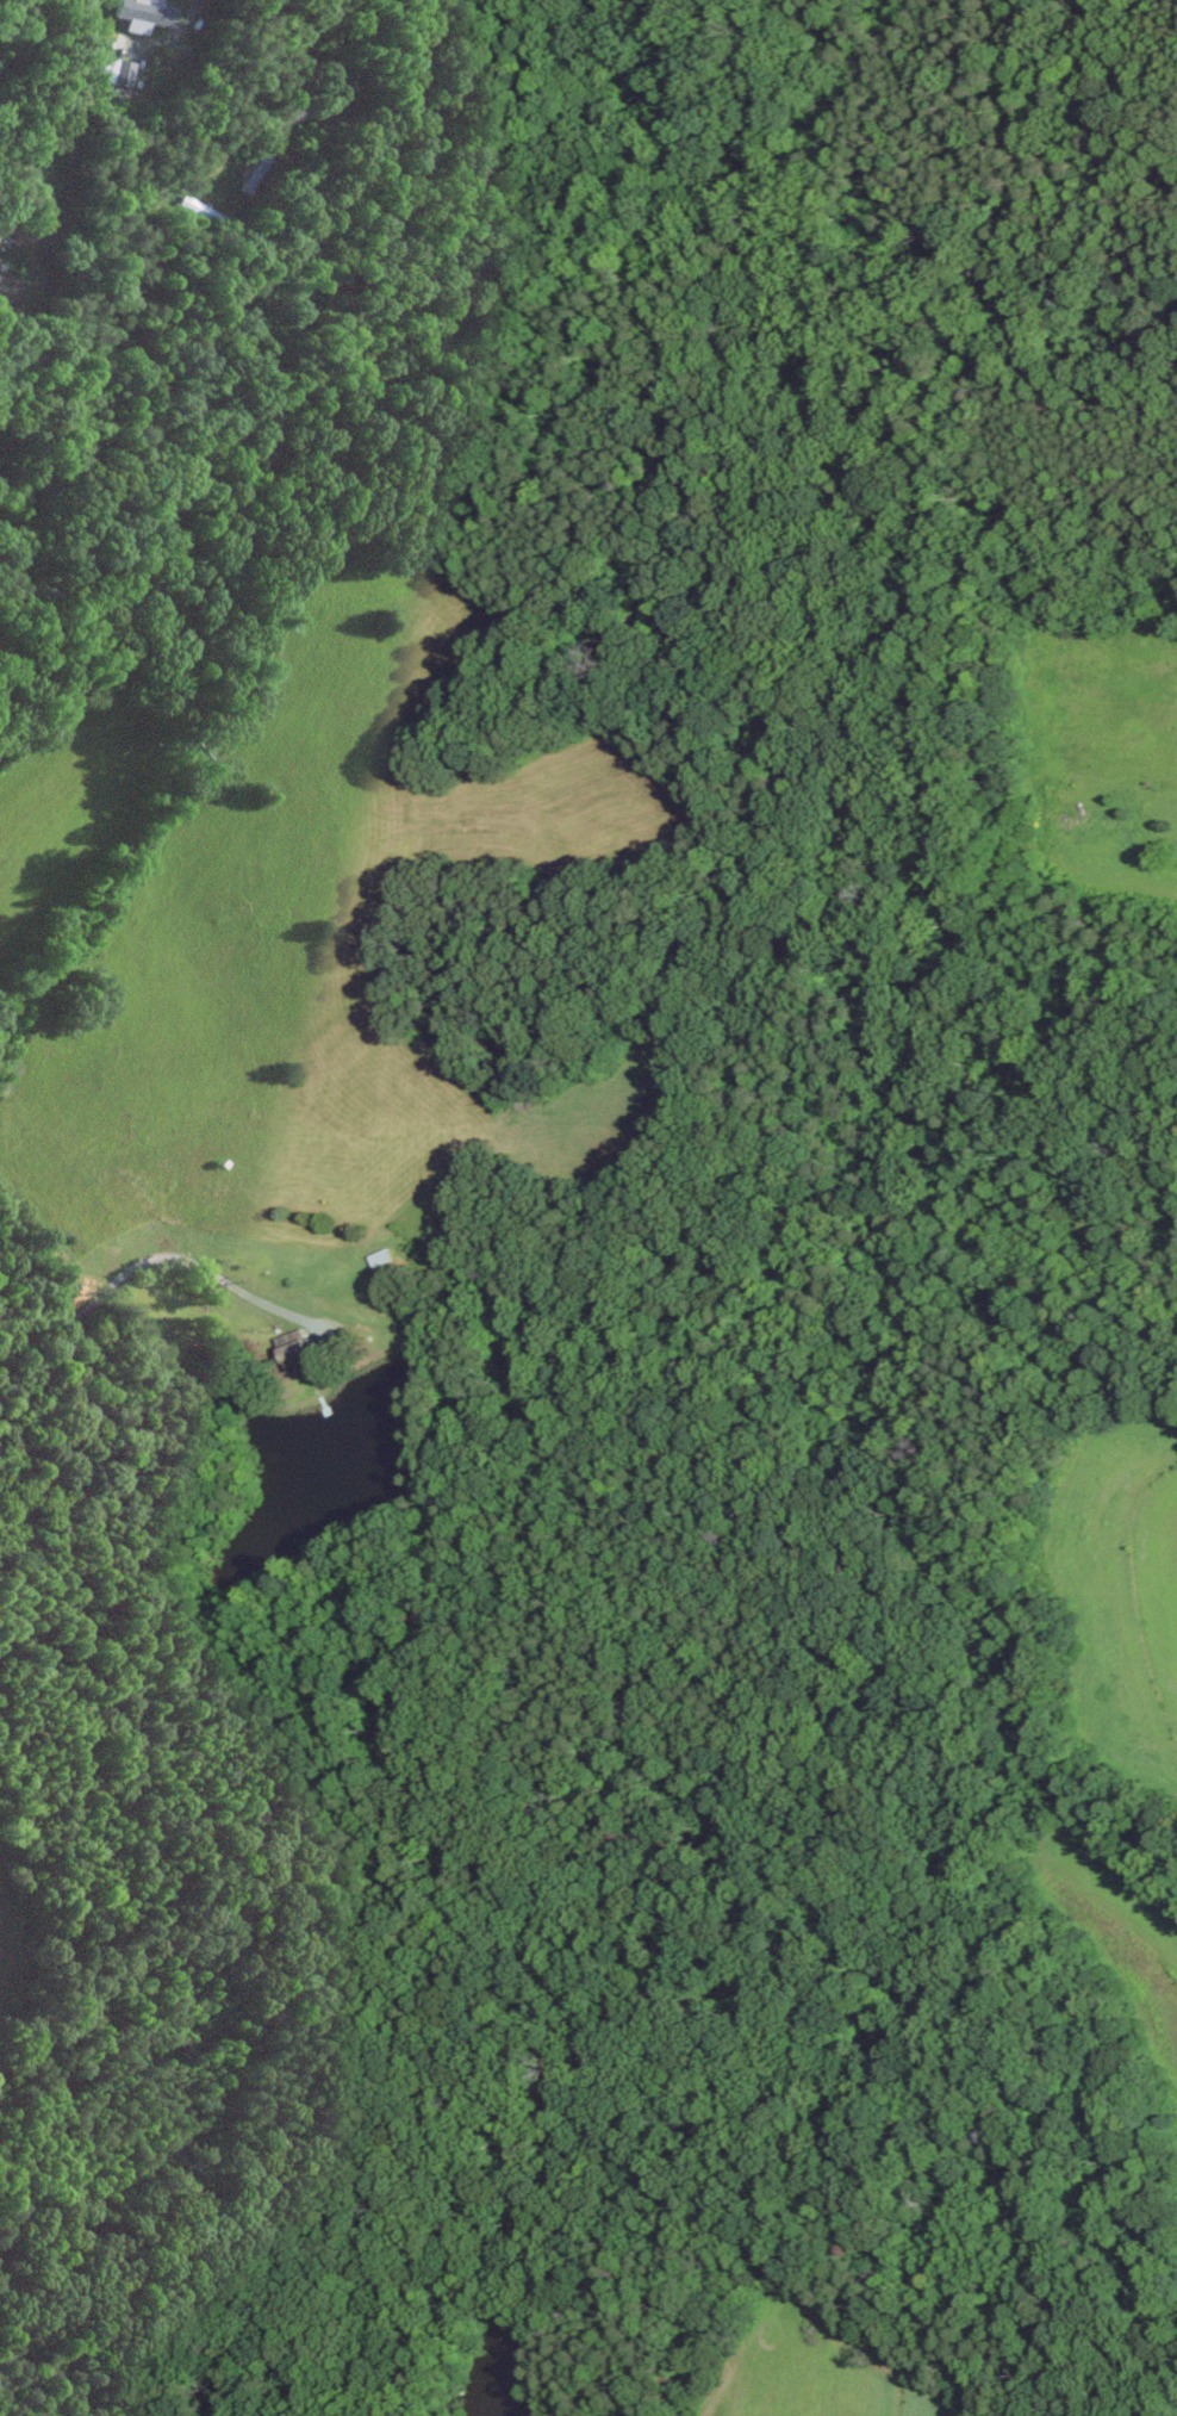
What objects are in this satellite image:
building: (144, 14)
road: (182, 27)
building: (113, 72)
road: (286, 98)
road: (117, 1281)
building: (293, 1348)

